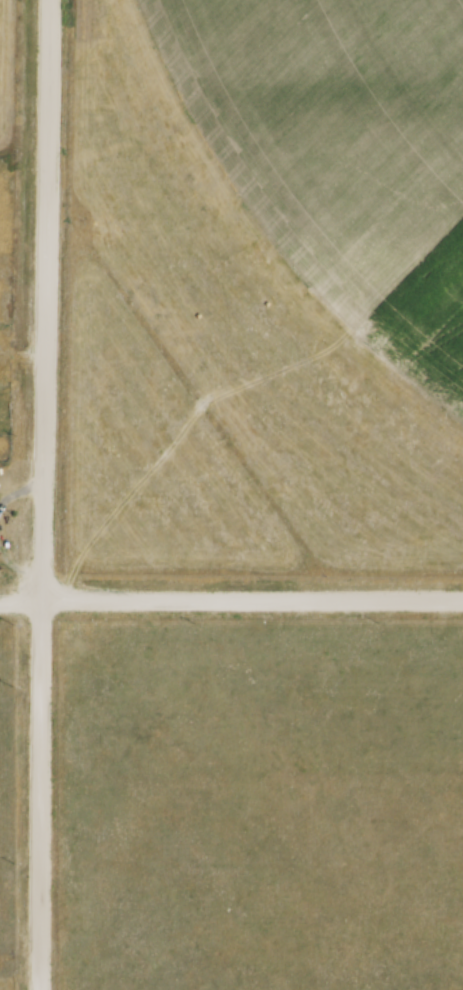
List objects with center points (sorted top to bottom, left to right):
road: (42, 494)
road: (231, 599)

